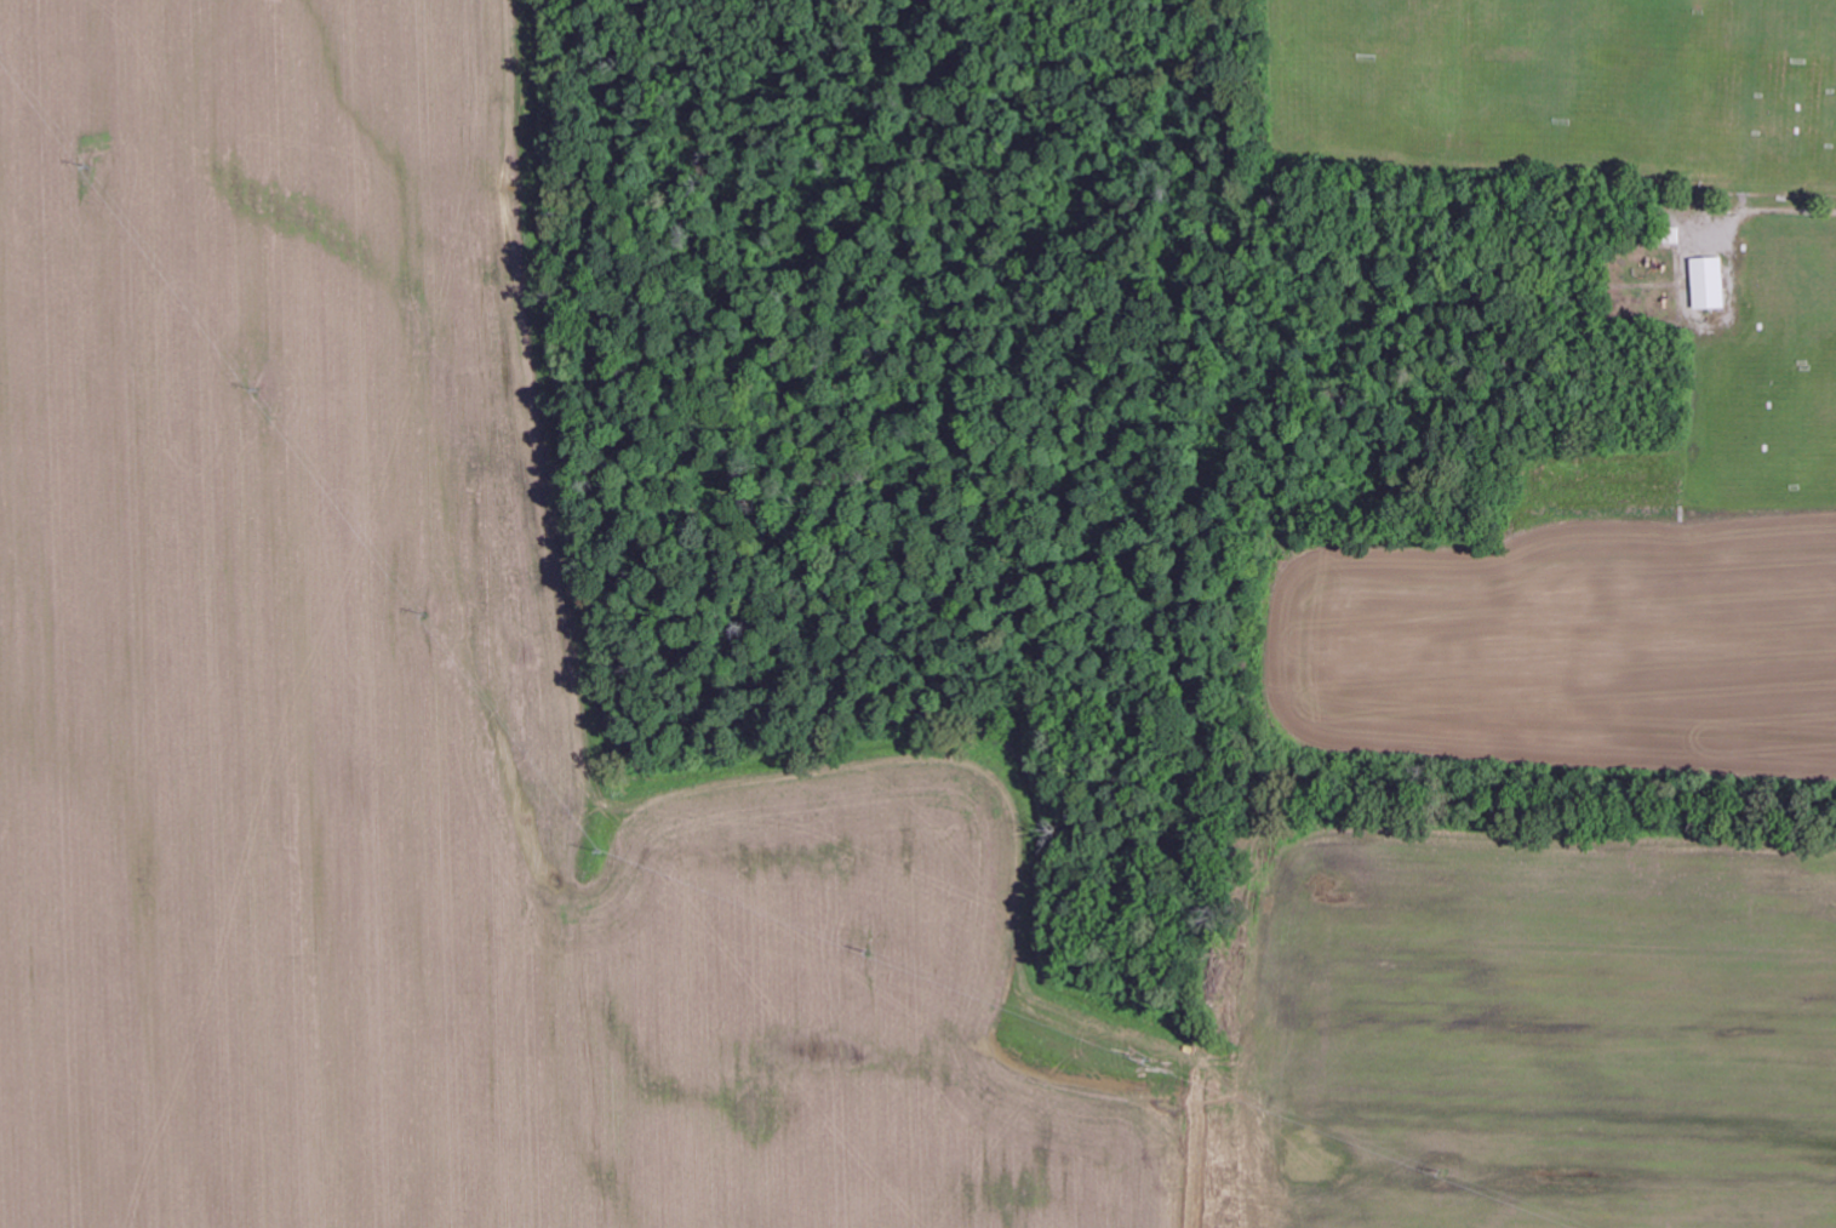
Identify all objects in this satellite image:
road: (1824, 81)
road: (1811, 105)
road: (1785, 227)
road: (1623, 282)
building: (1710, 284)
road: (1750, 377)
park: (1763, 382)

